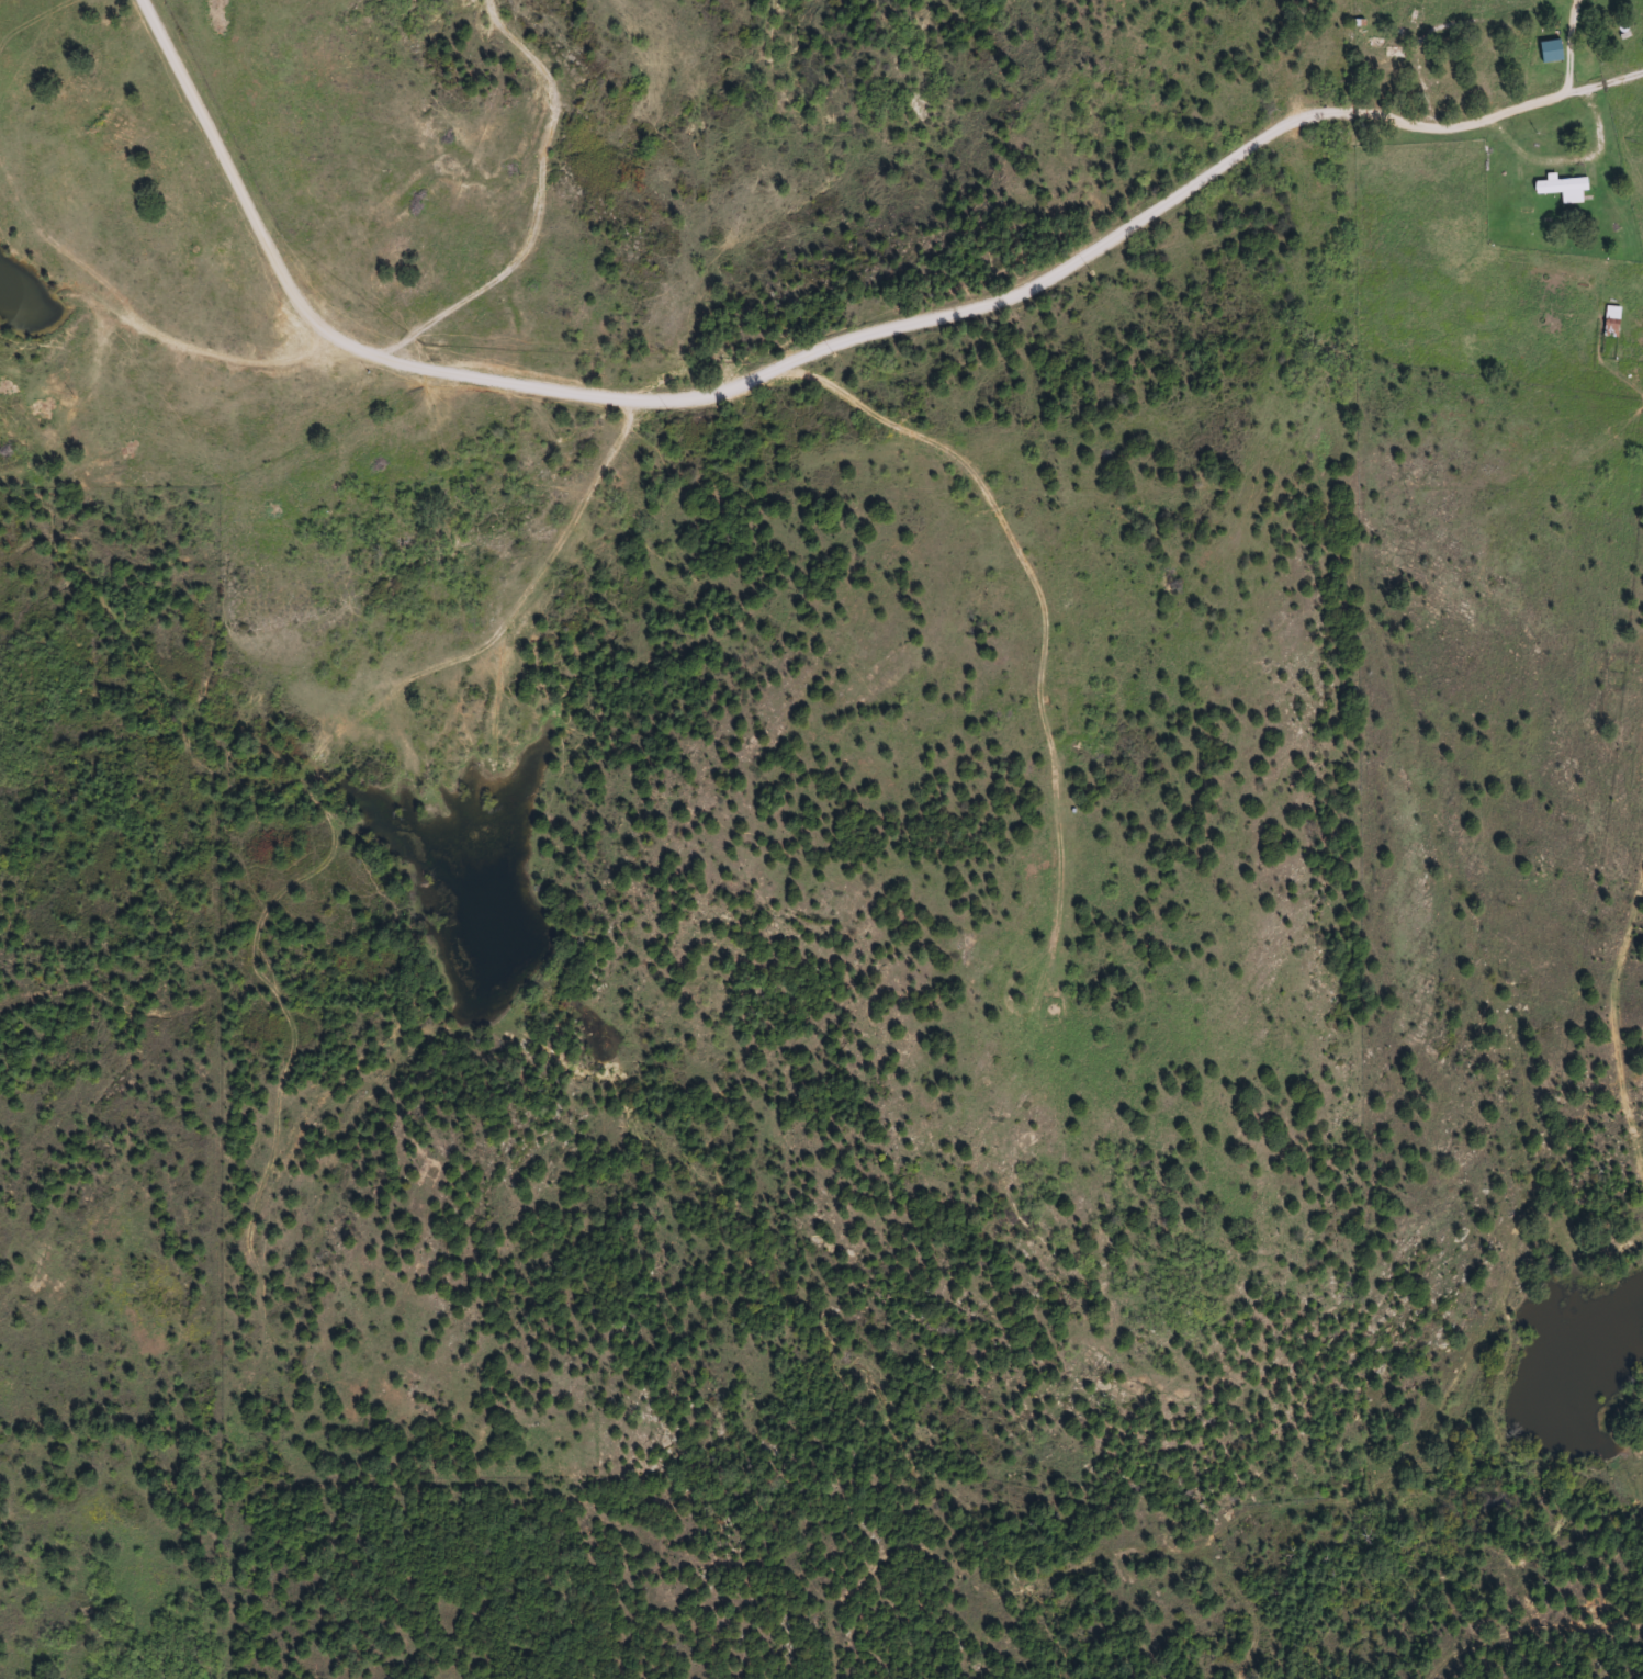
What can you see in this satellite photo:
building: (1552, 50)
building: (1381, 55)
building: (1564, 188)
building: (1611, 322)

